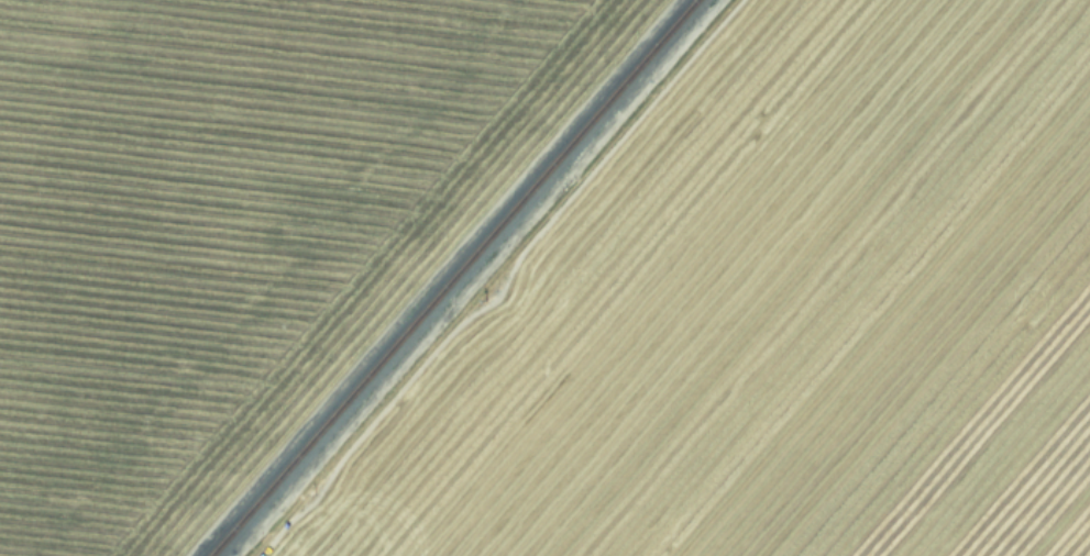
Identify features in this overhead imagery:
railway: (452, 278)
crop: (544, 278)

